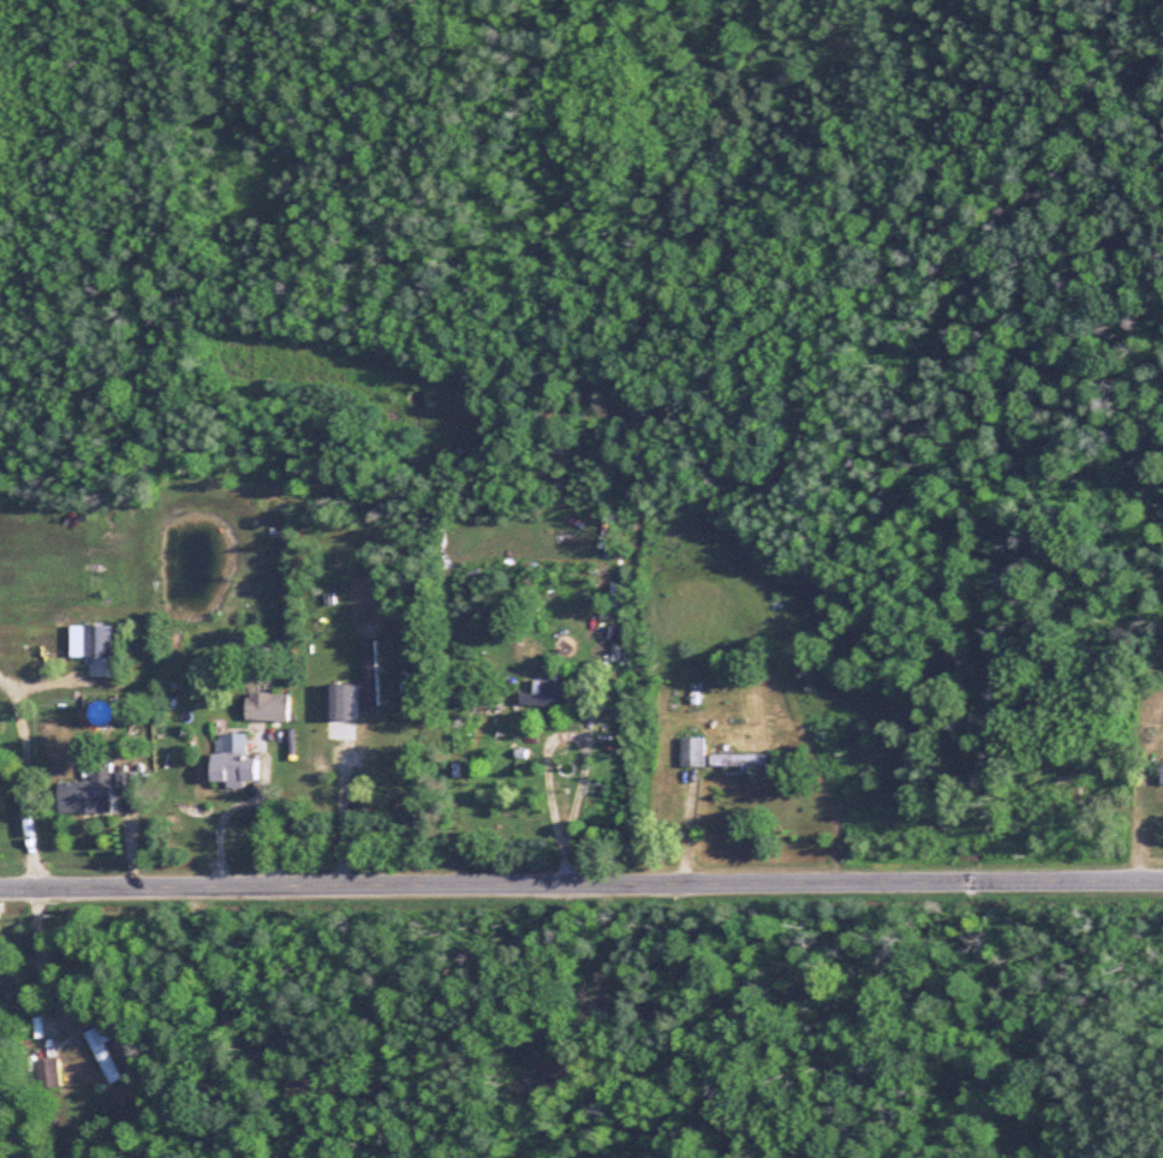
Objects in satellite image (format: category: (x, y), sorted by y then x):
building: (95, 641)
building: (369, 673)
building: (545, 696)
building: (339, 702)
building: (266, 706)
road: (547, 746)
building: (692, 752)
building: (228, 758)
building: (738, 760)
building: (1161, 774)
building: (123, 781)
building: (84, 792)
road: (580, 881)
road: (36, 957)
building: (101, 1051)
building: (44, 1073)

